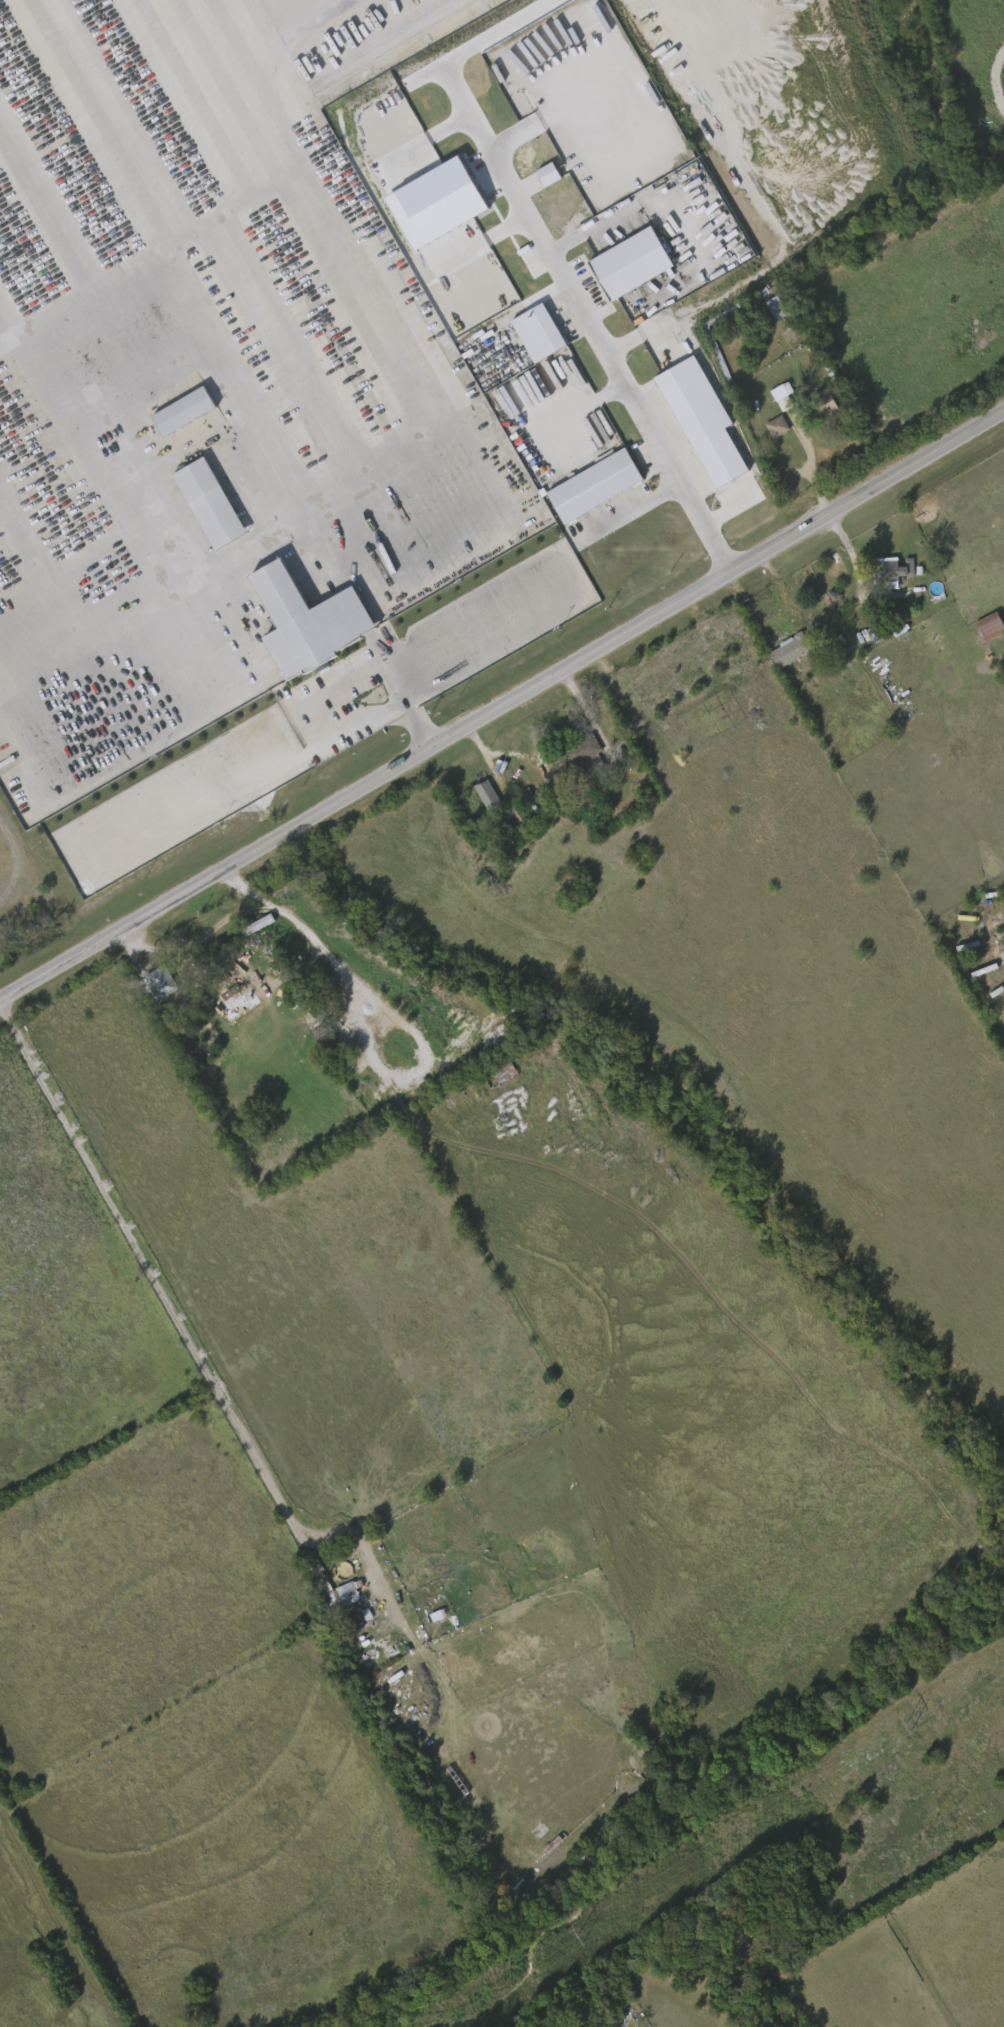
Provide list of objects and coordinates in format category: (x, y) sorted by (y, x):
building: (548, 175)
building: (441, 201)
road: (589, 231)
building: (631, 263)
road: (364, 286)
building: (774, 304)
building: (538, 333)
road: (599, 341)
building: (782, 392)
building: (823, 400)
building: (180, 410)
road: (581, 411)
building: (702, 420)
building: (776, 425)
road: (813, 475)
building: (595, 486)
building: (206, 502)
road: (630, 510)
road: (330, 523)
road: (858, 567)
building: (891, 567)
road: (773, 577)
road: (209, 591)
road: (576, 594)
road: (751, 606)
building: (303, 620)
building: (988, 625)
road: (102, 626)
building: (791, 649)
road: (337, 687)
road: (502, 707)
road: (593, 713)
road: (421, 730)
building: (583, 747)
building: (486, 794)
building: (569, 874)
building: (256, 923)
road: (212, 931)
building: (158, 981)
building: (238, 999)
building: (504, 1072)
building: (348, 1594)
building: (381, 1636)
building: (381, 1655)
power tower: (909, 1725)
power tower: (581, 1936)

